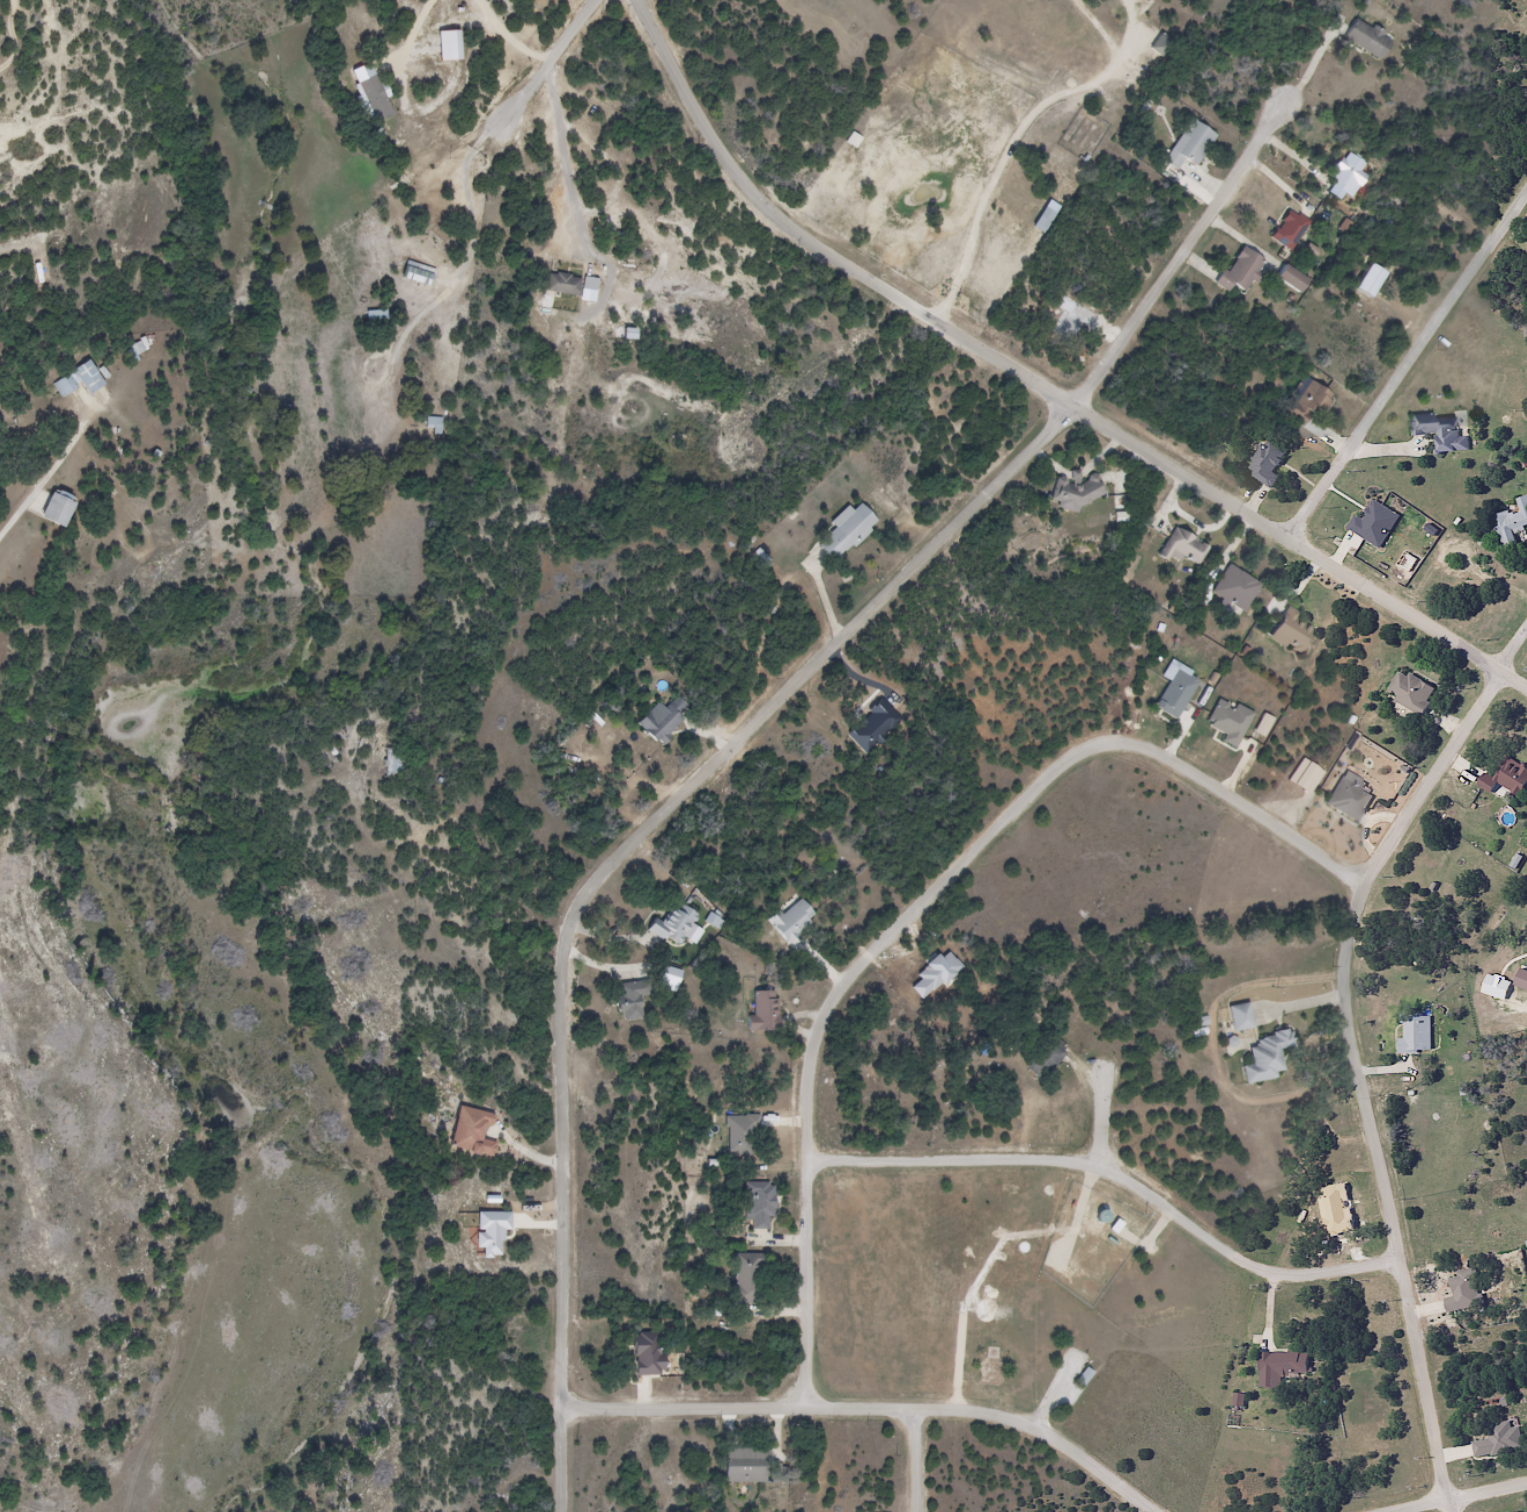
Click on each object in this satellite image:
building: (1365, 38)
building: (1158, 45)
building: (437, 48)
road: (559, 56)
building: (1188, 146)
building: (1343, 175)
building: (1042, 220)
building: (1287, 230)
road: (1185, 252)
building: (1239, 272)
building: (414, 274)
building: (1289, 279)
building: (567, 285)
building: (374, 319)
building: (134, 349)
road: (1409, 369)
building: (85, 378)
building: (63, 386)
road: (1035, 394)
building: (1307, 404)
building: (432, 426)
building: (1438, 432)
building: (1264, 462)
building: (1074, 492)
building: (53, 510)
building: (1511, 521)
building: (843, 532)
building: (1180, 548)
building: (1234, 589)
building: (1288, 632)
building: (1408, 692)
building: (661, 720)
building: (391, 769)
building: (1505, 777)
building: (1347, 800)
road: (640, 834)
road: (913, 904)
building: (789, 922)
building: (672, 927)
building: (629, 1000)
building: (762, 1013)
building: (1238, 1018)
building: (1412, 1034)
road: (1353, 1039)
building: (1264, 1058)
building: (1042, 1060)
building: (469, 1132)
road: (1117, 1171)
road: (1169, 1175)
building: (756, 1205)
building: (745, 1279)
building: (645, 1354)
building: (1282, 1362)
building: (1083, 1377)
road: (866, 1410)
building: (1497, 1441)
road: (555, 1458)
road: (917, 1462)
building: (742, 1465)
road: (1458, 1496)
road: (1453, 1505)

